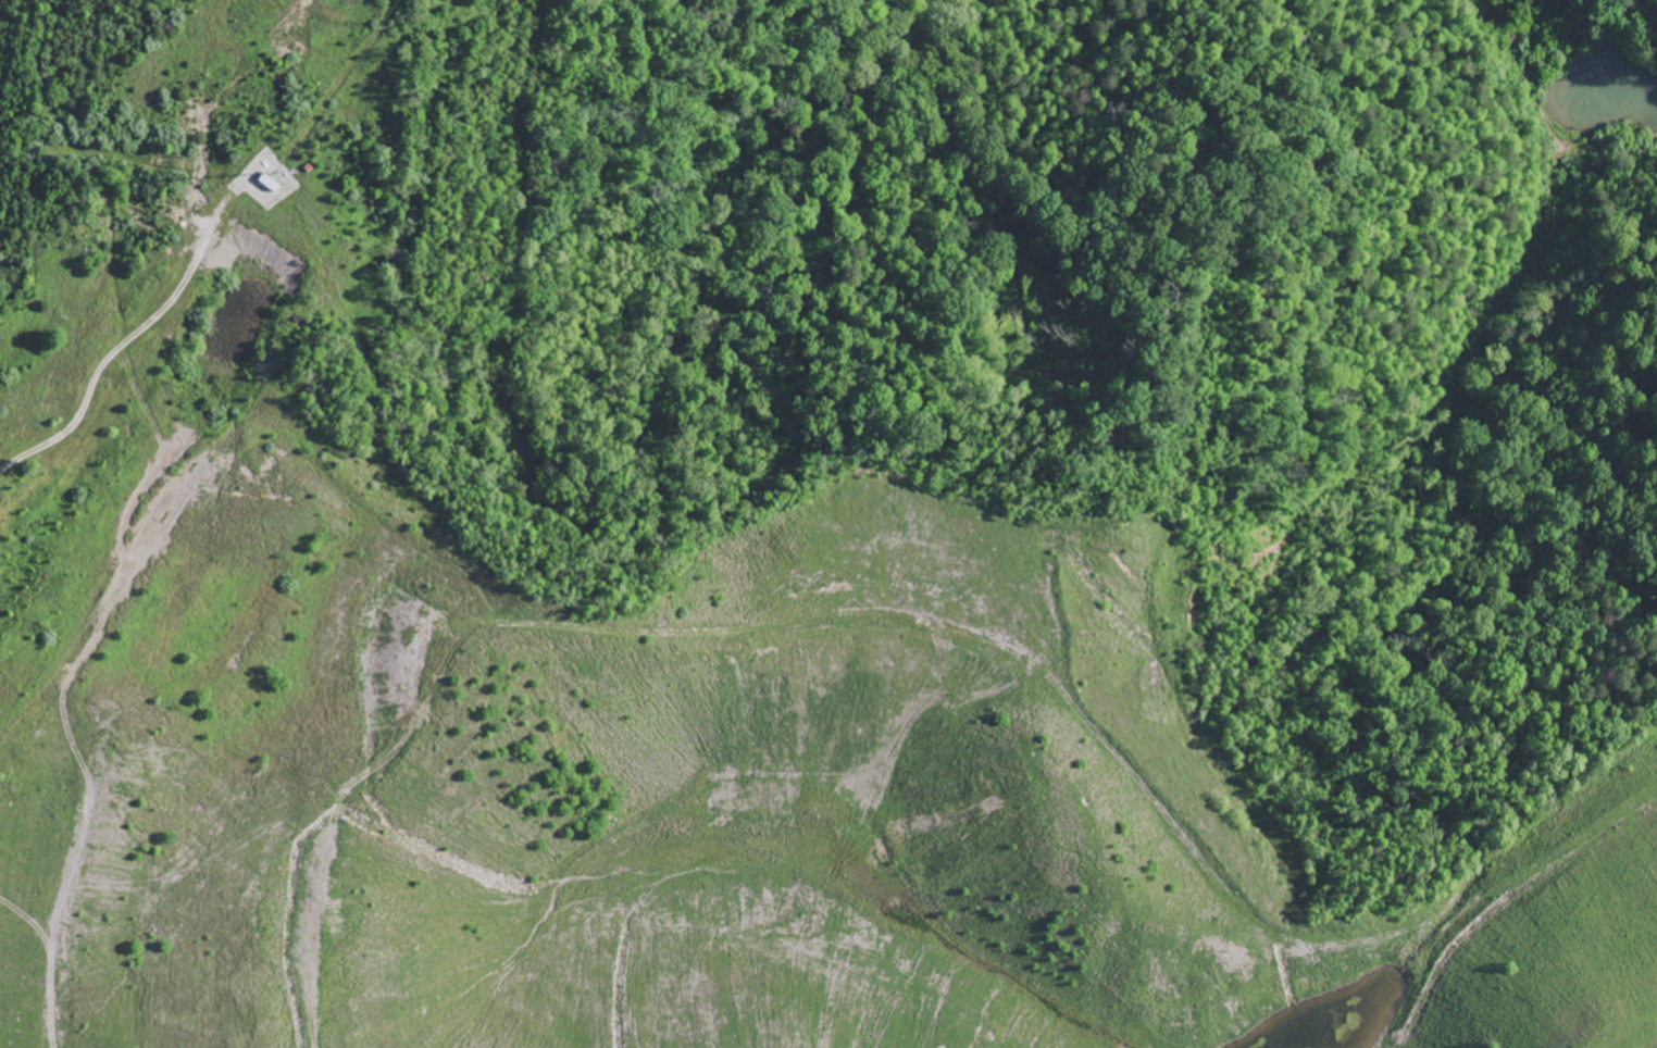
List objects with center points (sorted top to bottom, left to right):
road: (1592, 52)

